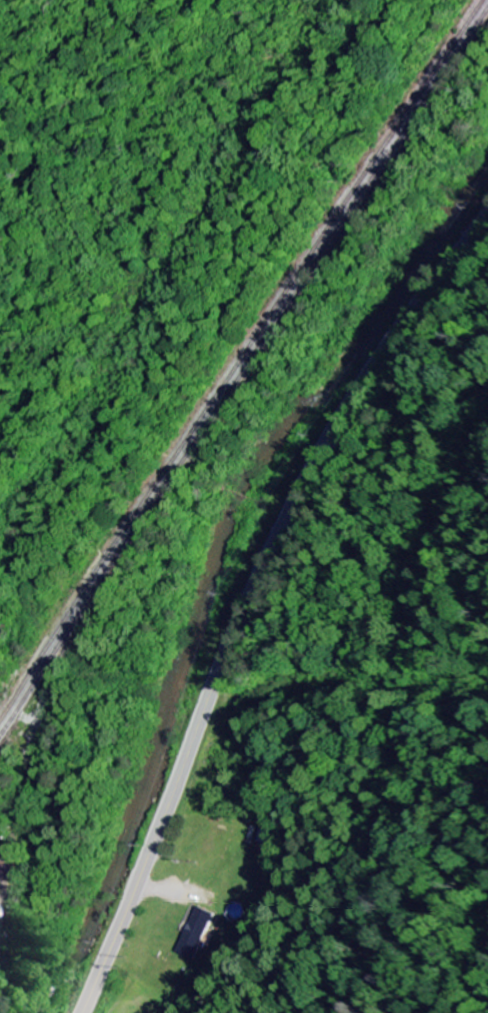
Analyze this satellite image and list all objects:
railway: (244, 372)
road: (249, 595)
building: (268, 844)
building: (5, 873)
building: (195, 934)

